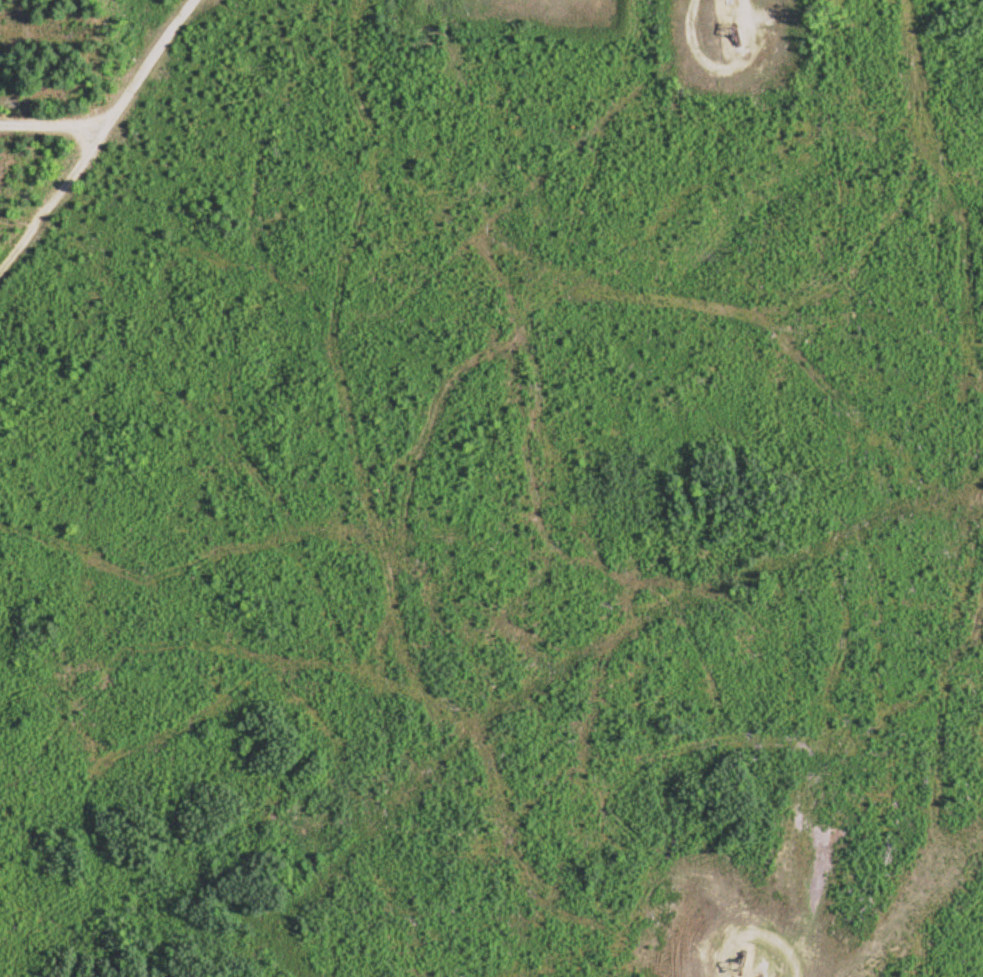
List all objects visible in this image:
road: (738, 3)
petroleum well: (733, 37)
road: (51, 130)
road: (94, 138)
petroleum well: (738, 973)

